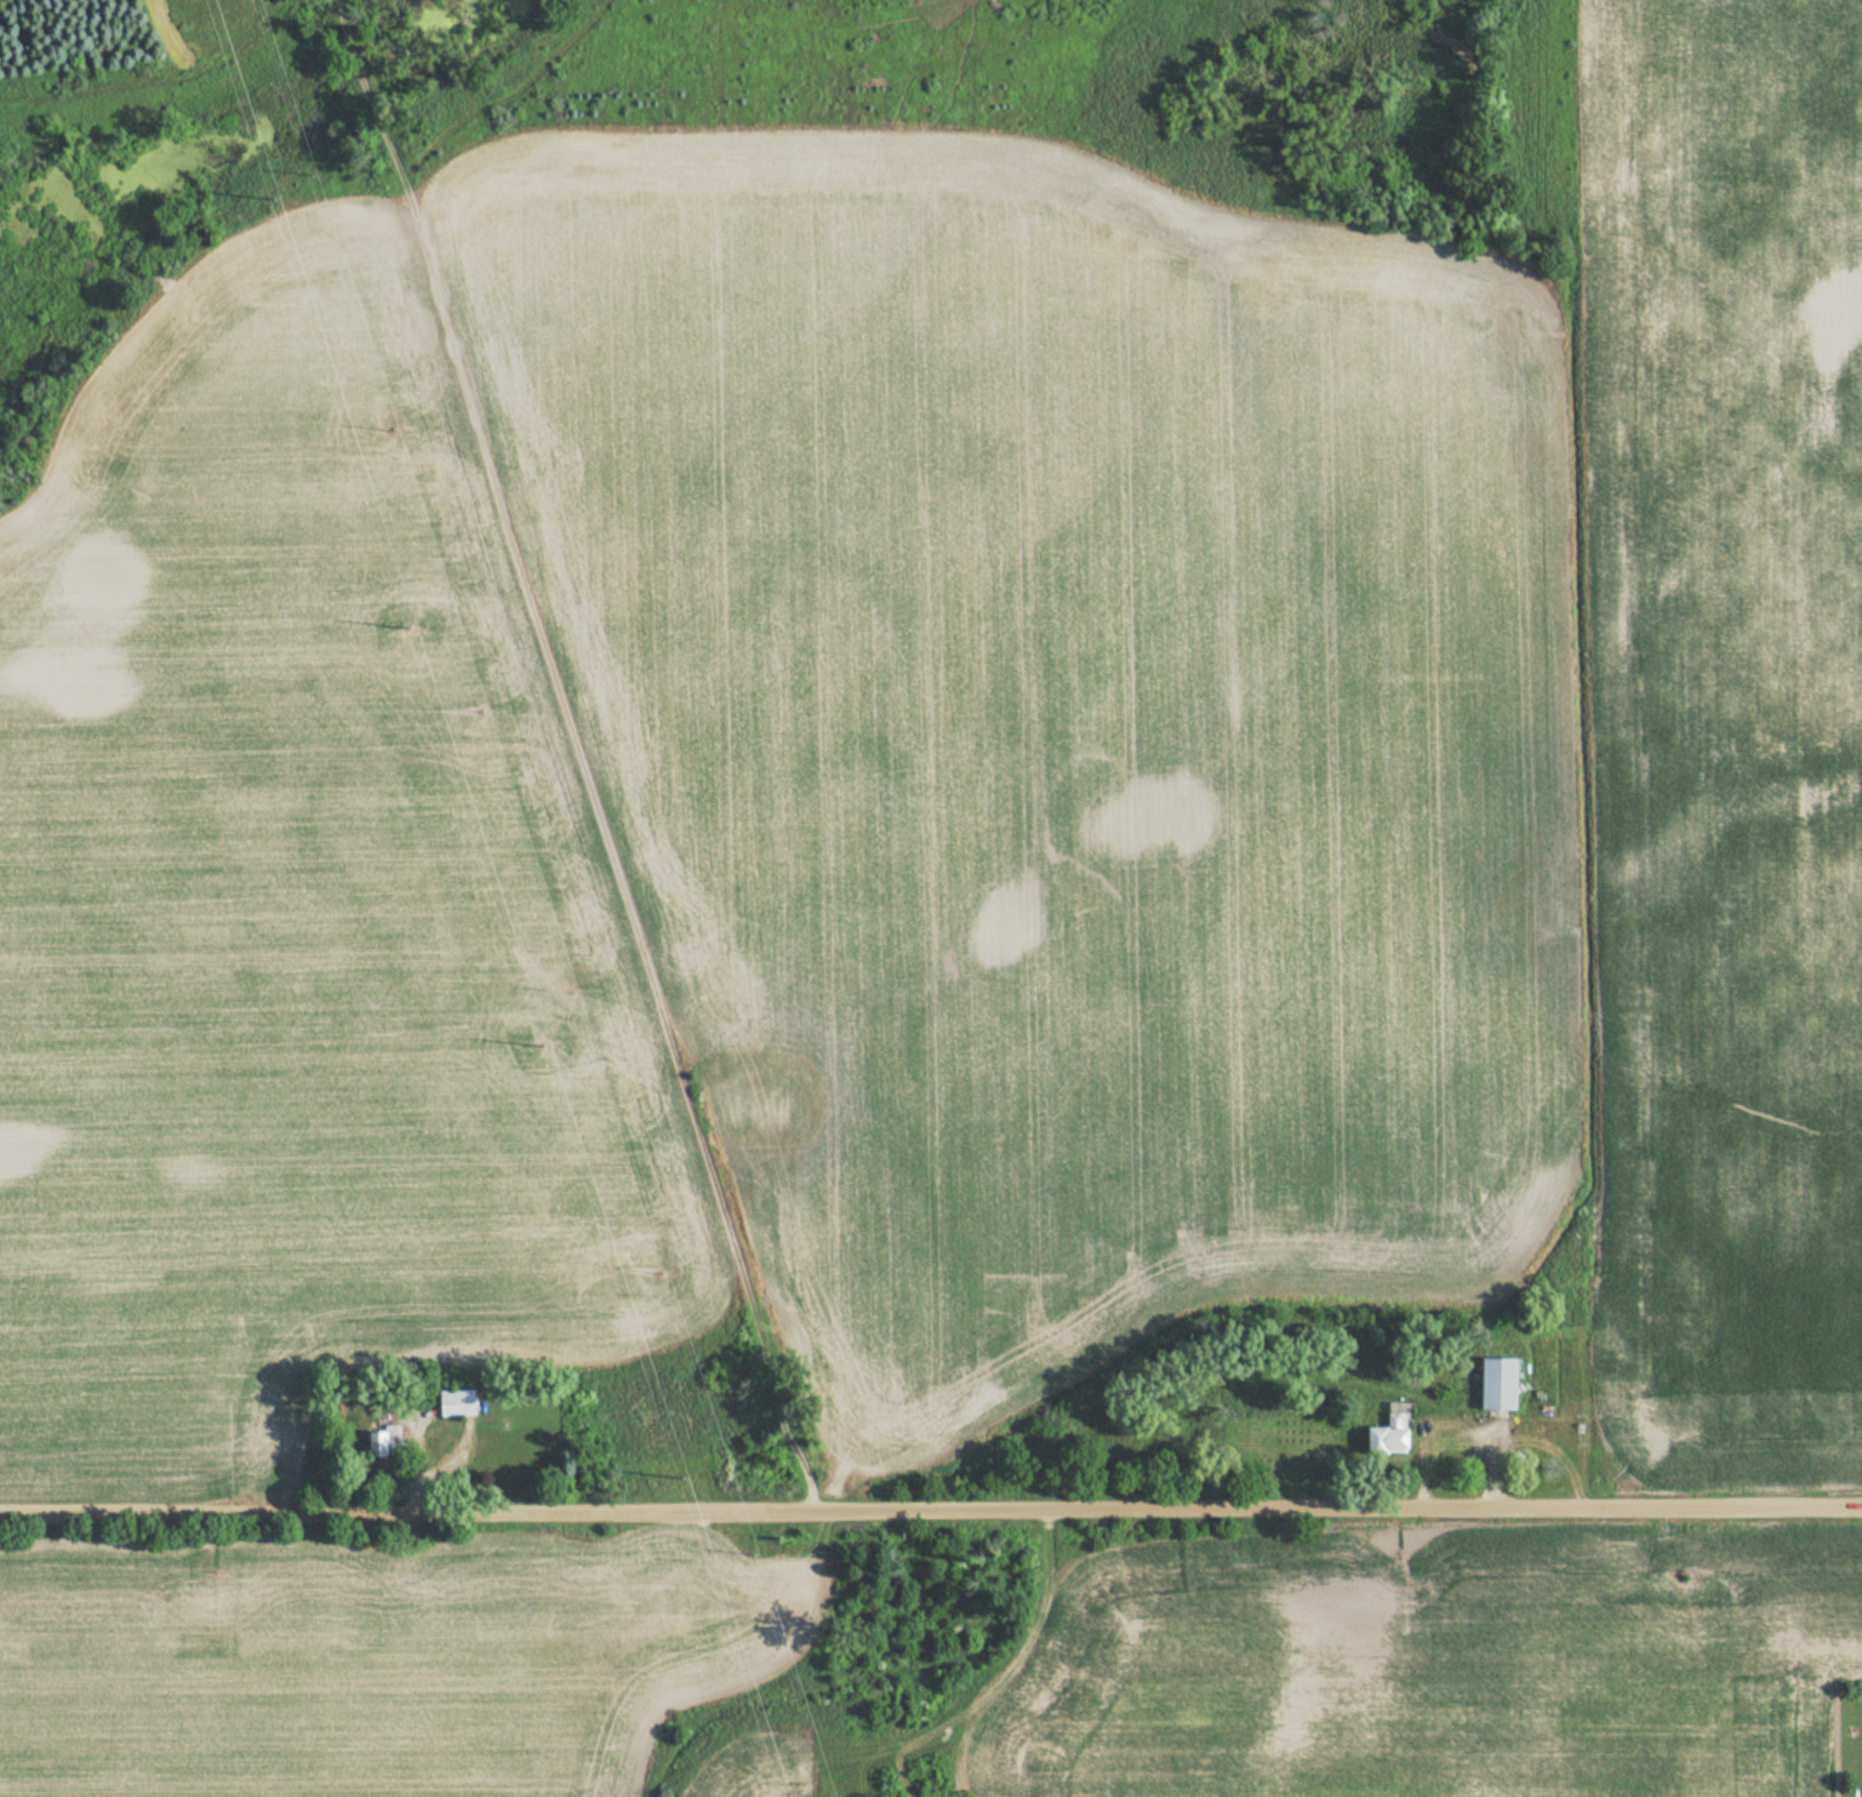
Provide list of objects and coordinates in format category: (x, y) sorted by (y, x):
building: (1495, 1384)
building: (453, 1404)
building: (1383, 1437)
building: (387, 1443)
road: (930, 1505)

